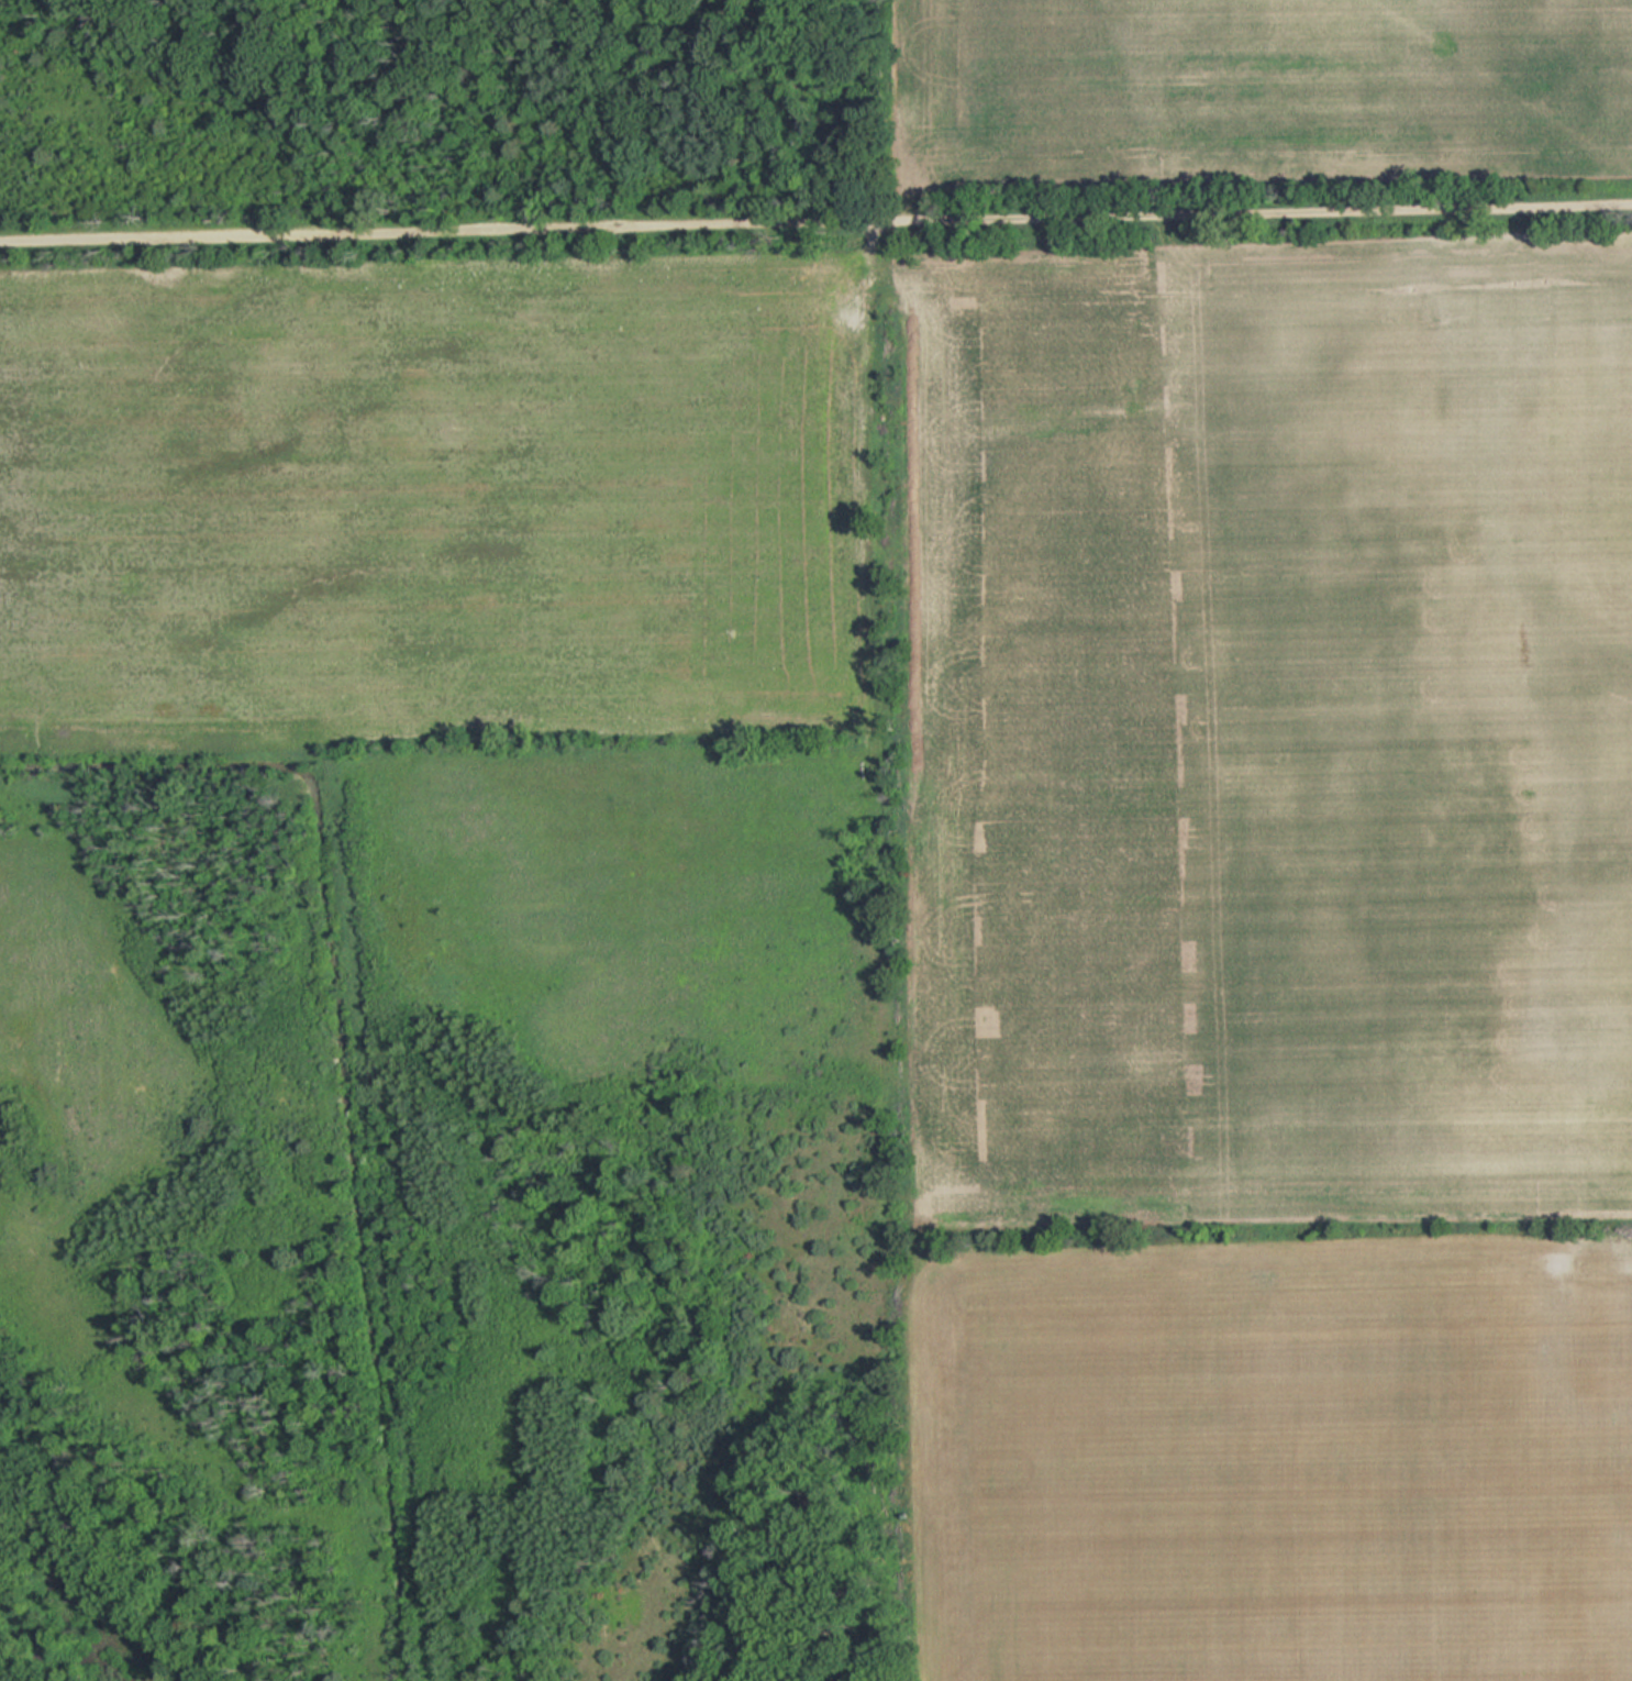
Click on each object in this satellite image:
road: (815, 234)

